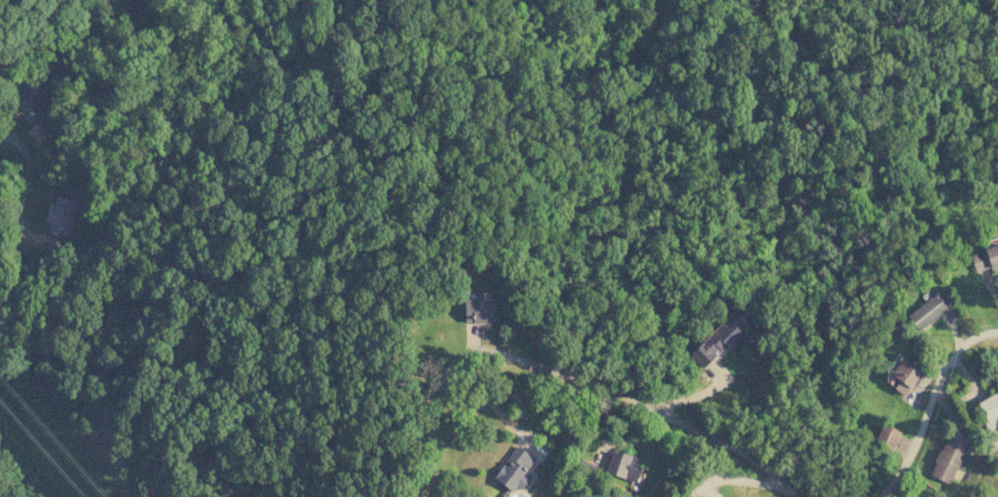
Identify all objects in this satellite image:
road: (51, 59)
building: (40, 132)
building: (60, 216)
building: (985, 259)
building: (478, 310)
building: (927, 312)
building: (721, 337)
building: (901, 375)
road: (564, 377)
road: (930, 404)
road: (490, 409)
building: (989, 409)
building: (886, 436)
building: (992, 441)
building: (947, 459)
building: (623, 465)
building: (514, 470)
building: (696, 496)

